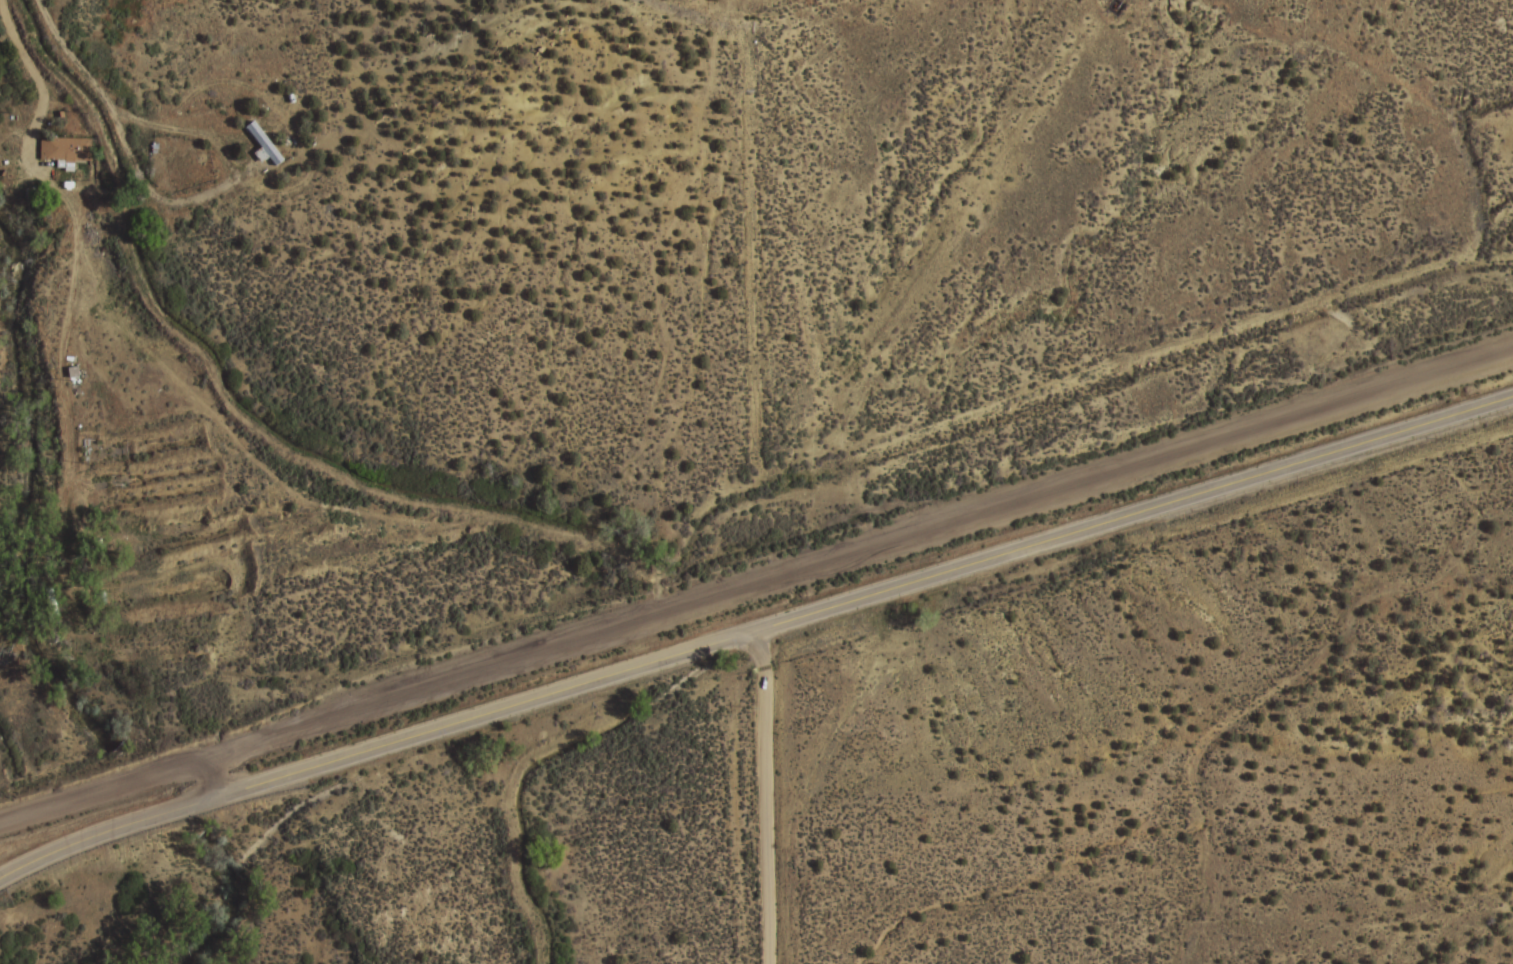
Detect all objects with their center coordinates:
road: (699, 14)
road: (775, 14)
building: (264, 144)
road: (750, 497)
river: (34, 507)
road: (859, 553)
road: (754, 629)
road: (121, 786)
river: (162, 797)
river: (229, 905)

